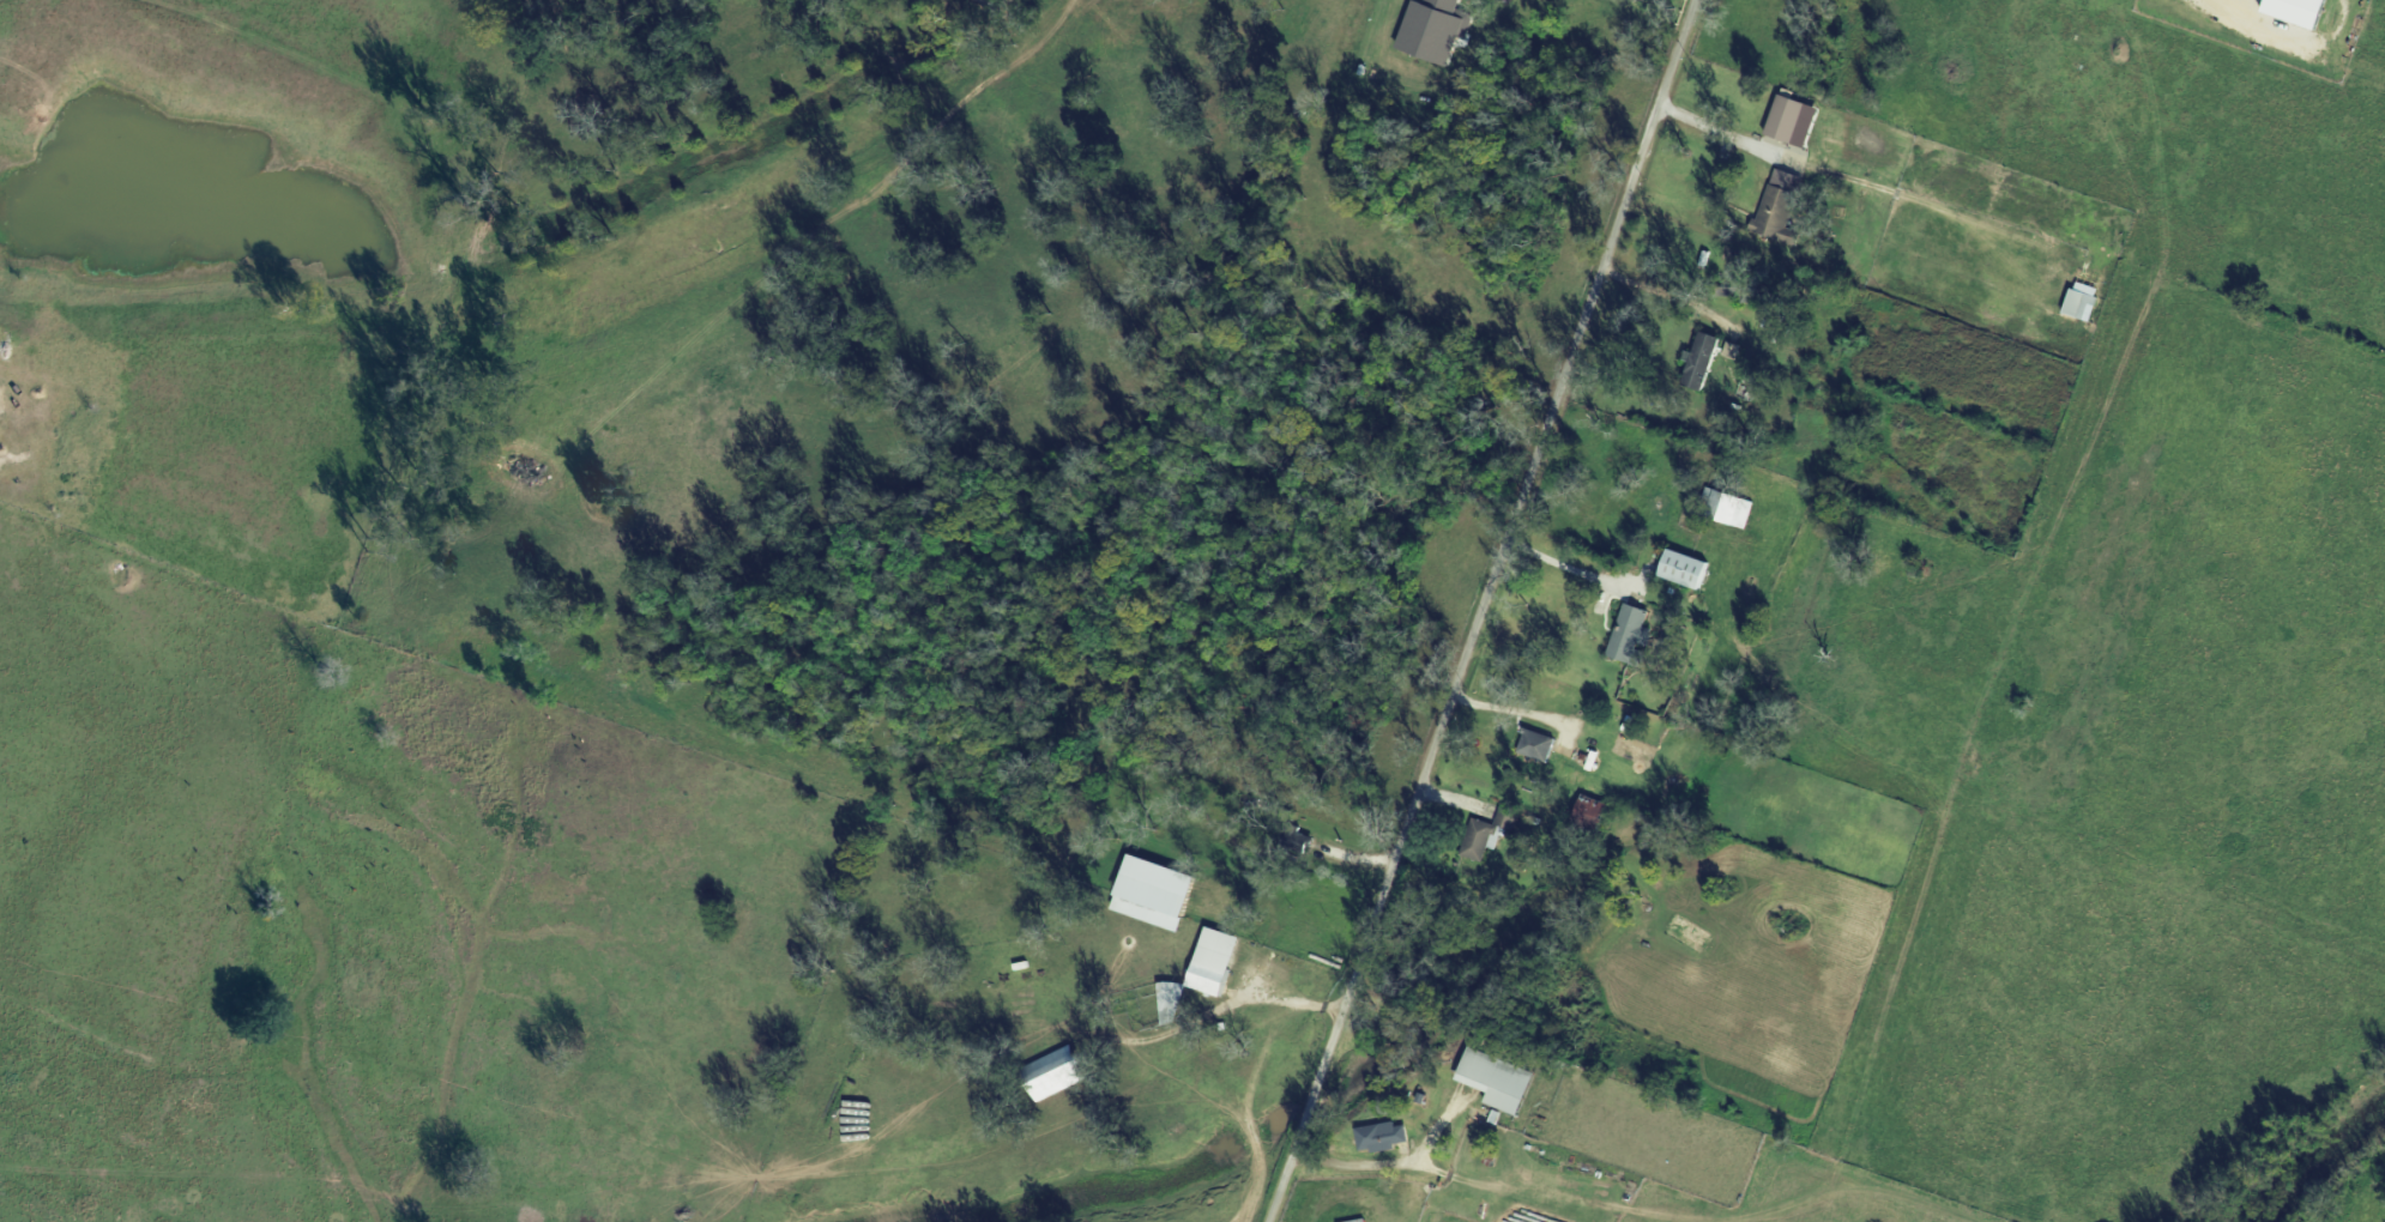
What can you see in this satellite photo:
building: (2296, 11)
building: (1433, 29)
building: (1792, 121)
road: (1728, 129)
building: (1779, 205)
road: (1671, 296)
building: (2081, 304)
building: (1701, 361)
building: (1729, 509)
road: (1578, 563)
building: (1685, 569)
road: (1486, 611)
building: (1630, 633)
building: (1538, 745)
road: (1457, 793)
building: (1589, 812)
building: (1489, 834)
building: (1298, 840)
building: (1152, 894)
building: (1213, 962)
building: (1172, 1003)
building: (1052, 1075)
building: (1496, 1081)
building: (1381, 1137)
road: (1351, 1160)

